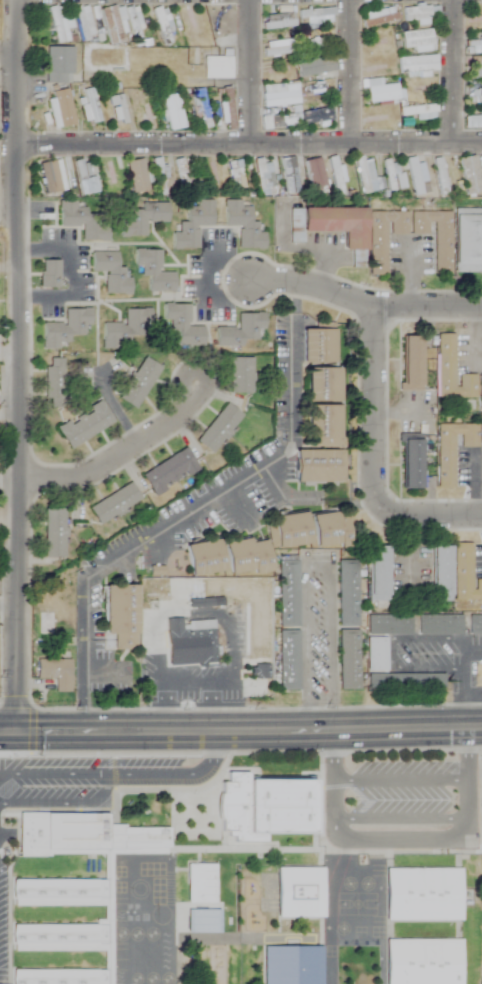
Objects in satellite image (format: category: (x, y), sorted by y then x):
building: (420, 14)
building: (315, 17)
building: (378, 18)
building: (473, 22)
building: (83, 23)
building: (57, 24)
building: (111, 25)
building: (135, 26)
building: (189, 26)
building: (317, 41)
building: (415, 41)
building: (473, 46)
building: (378, 47)
building: (276, 51)
road: (8, 63)
building: (58, 64)
building: (416, 64)
building: (216, 67)
building: (314, 67)
building: (475, 68)
road: (450, 71)
road: (245, 72)
road: (345, 72)
building: (317, 87)
building: (419, 87)
building: (381, 93)
building: (479, 95)
building: (277, 97)
building: (88, 105)
building: (59, 108)
building: (118, 109)
building: (202, 110)
building: (171, 112)
building: (149, 113)
building: (418, 113)
building: (315, 116)
building: (472, 121)
building: (277, 122)
road: (249, 144)
building: (311, 172)
building: (390, 174)
building: (105, 175)
building: (468, 175)
building: (136, 176)
building: (208, 176)
building: (335, 176)
building: (414, 176)
building: (439, 176)
building: (51, 177)
building: (81, 177)
building: (181, 177)
building: (235, 177)
building: (259, 177)
building: (292, 178)
building: (143, 218)
building: (84, 219)
building: (337, 221)
building: (194, 224)
building: (244, 224)
building: (383, 235)
building: (435, 235)
building: (469, 238)
building: (155, 268)
road: (8, 269)
building: (111, 271)
building: (50, 272)
road: (71, 274)
road: (204, 277)
road: (292, 295)
road: (361, 304)
building: (185, 325)
building: (68, 327)
building: (128, 327)
building: (239, 330)
building: (319, 344)
building: (411, 361)
road: (18, 366)
building: (453, 370)
building: (242, 375)
building: (140, 381)
building: (324, 383)
building: (54, 384)
building: (481, 385)
road: (371, 409)
road: (9, 412)
building: (324, 419)
building: (84, 424)
building: (221, 428)
building: (481, 436)
building: (453, 449)
road: (119, 453)
building: (411, 460)
building: (319, 465)
building: (170, 468)
road: (219, 492)
building: (115, 502)
road: (429, 514)
building: (291, 528)
building: (329, 529)
building: (60, 538)
building: (246, 556)
building: (204, 557)
road: (317, 563)
building: (378, 575)
building: (442, 575)
building: (466, 575)
road: (9, 591)
building: (292, 593)
building: (349, 593)
road: (9, 608)
building: (121, 615)
building: (45, 622)
building: (390, 626)
building: (441, 626)
building: (476, 626)
building: (202, 640)
road: (463, 648)
building: (377, 655)
road: (391, 655)
building: (349, 659)
building: (292, 660)
building: (52, 672)
building: (481, 677)
road: (211, 680)
building: (407, 683)
road: (464, 683)
road: (81, 685)
road: (163, 695)
road: (241, 732)
road: (131, 779)
road: (5, 780)
road: (399, 781)
road: (61, 807)
building: (303, 836)
road: (395, 843)
building: (84, 865)
building: (97, 881)
building: (212, 881)
building: (302, 891)
building: (426, 892)
building: (426, 960)
building: (292, 966)

